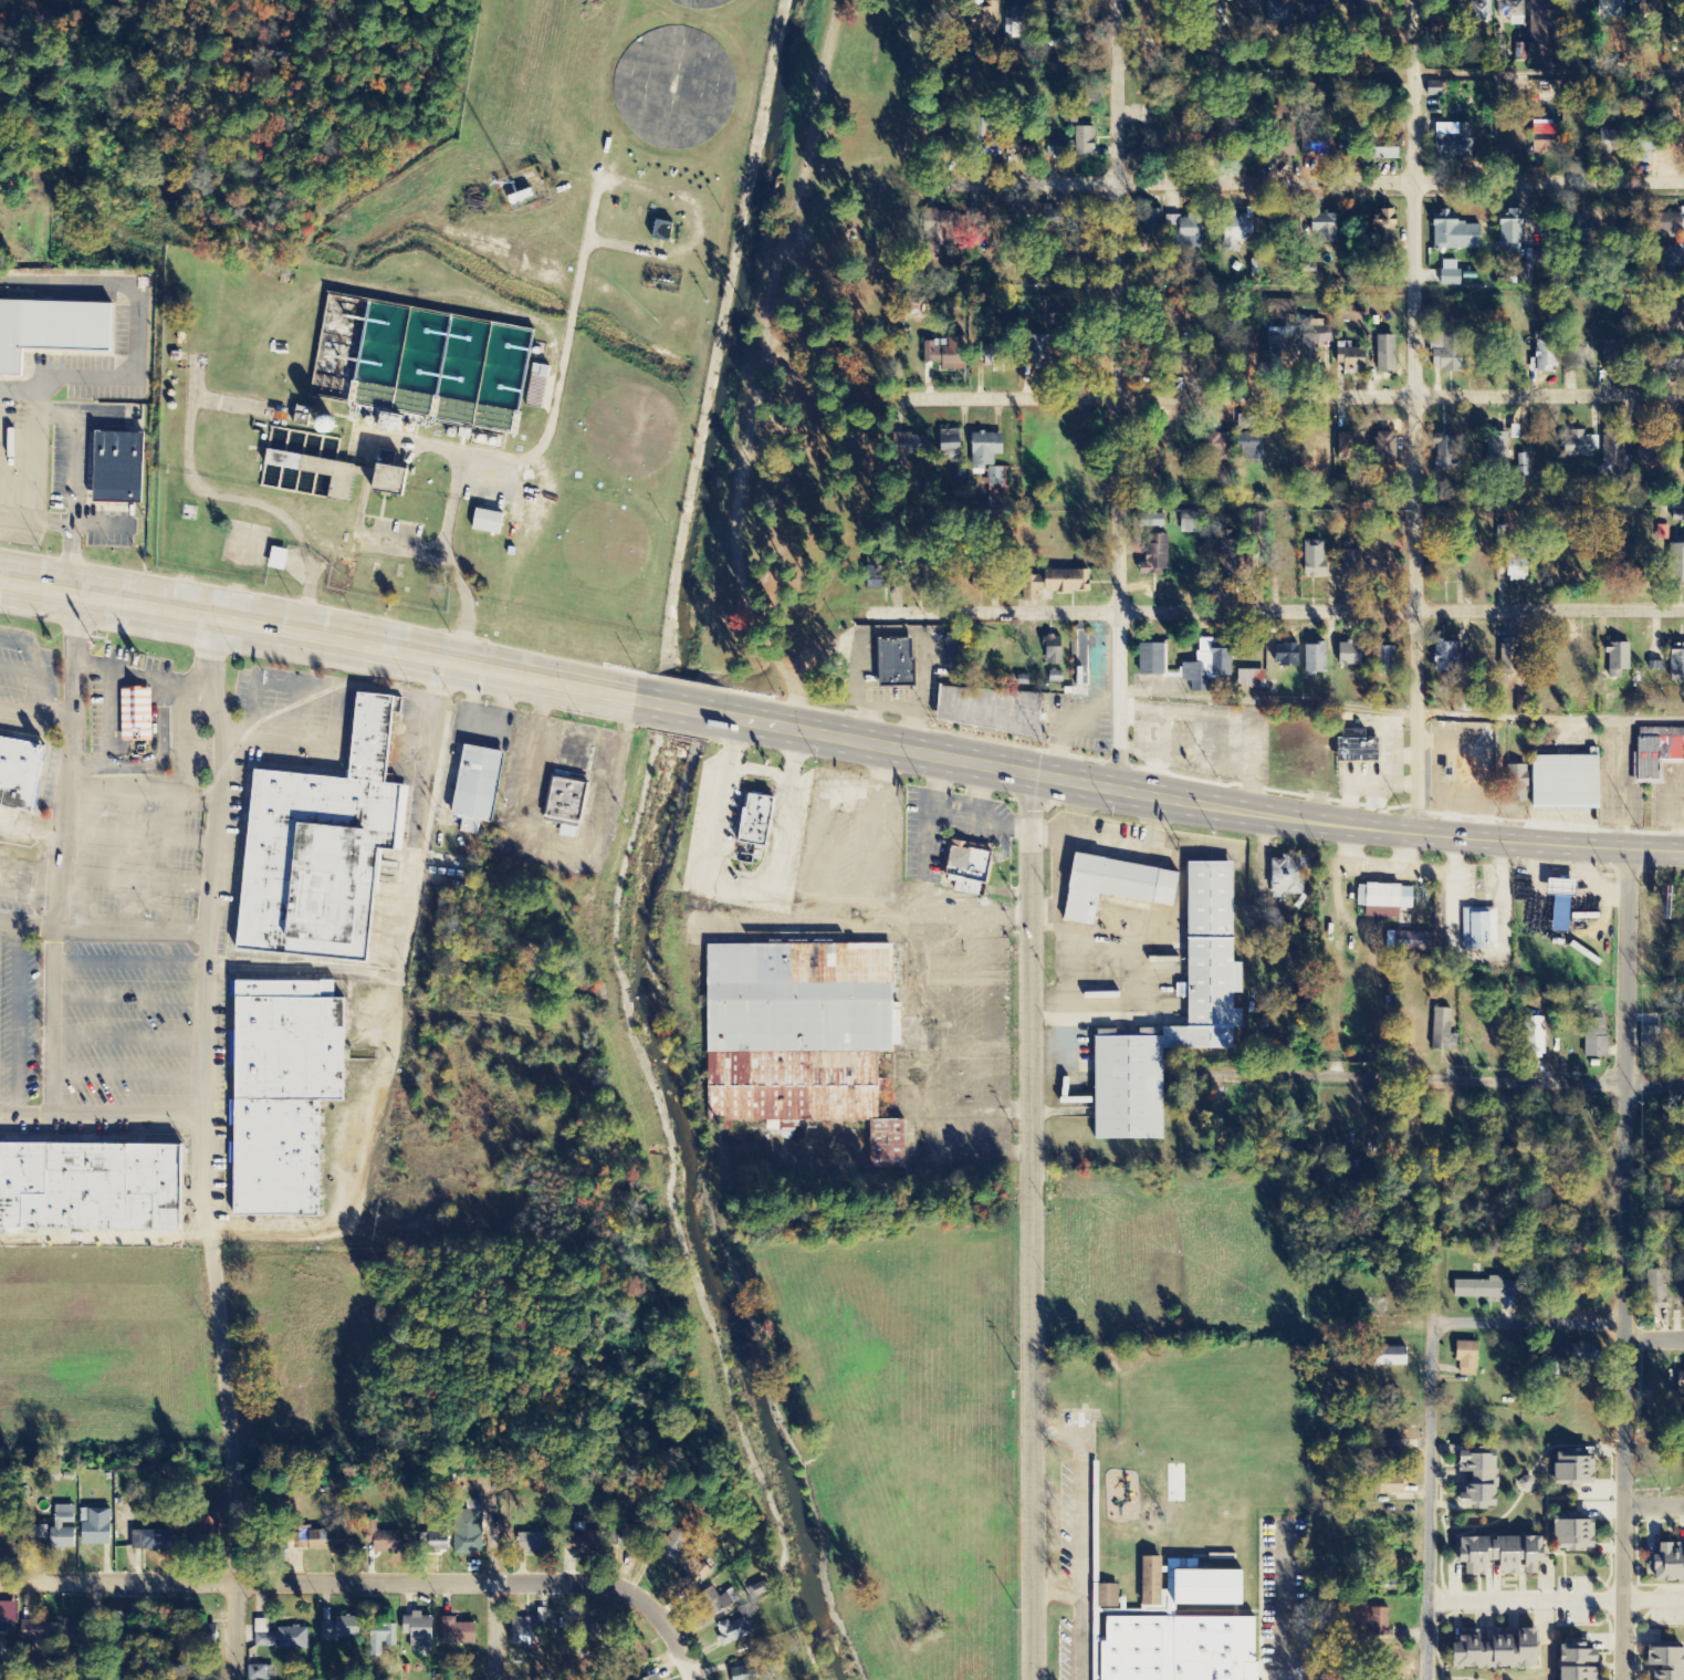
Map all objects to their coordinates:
building: (1611, 10)
building: (1278, 11)
building: (1477, 11)
building: (1214, 12)
building: (1054, 13)
building: (979, 18)
building: (1021, 21)
building: (1542, 23)
building: (1675, 27)
building: (1539, 129)
building: (1087, 142)
building: (1283, 142)
building: (1308, 142)
building: (1610, 143)
building: (1454, 144)
building: (1541, 147)
building: (1060, 148)
building: (1380, 149)
road: (1319, 181)
building: (1152, 221)
building: (941, 225)
building: (1548, 225)
building: (1666, 225)
building: (1034, 226)
building: (1577, 226)
building: (1324, 227)
building: (1382, 227)
building: (1234, 231)
building: (665, 232)
building: (1507, 232)
building: (1085, 234)
building: (1186, 234)
building: (1453, 234)
building: (1670, 260)
building: (1308, 264)
building: (1448, 275)
building: (1282, 311)
building: (1348, 313)
building: (1669, 319)
building: (51, 328)
wastewater plant: (482, 336)
building: (948, 353)
building: (1384, 354)
building: (1444, 354)
building: (1672, 356)
building: (1581, 357)
building: (1541, 359)
building: (1348, 361)
building: (1188, 364)
building: (1671, 367)
road: (1118, 395)
road: (1320, 396)
road: (1415, 417)
building: (385, 421)
building: (332, 426)
building: (952, 444)
building: (1577, 446)
building: (924, 447)
building: (1216, 447)
building: (1248, 448)
building: (1350, 448)
building: (1496, 449)
building: (985, 451)
building: (1383, 451)
building: (1614, 452)
building: (1445, 453)
building: (123, 468)
building: (322, 474)
building: (394, 477)
building: (997, 479)
building: (1153, 521)
building: (490, 522)
building: (1191, 525)
building: (1157, 556)
building: (1233, 557)
building: (280, 560)
building: (1312, 560)
building: (1350, 562)
building: (1675, 564)
building: (1514, 571)
building: (877, 580)
building: (1057, 584)
road: (1320, 611)
road: (890, 627)
building: (1055, 651)
building: (958, 654)
building: (1287, 656)
building: (1347, 656)
building: (1443, 658)
building: (1314, 659)
building: (1153, 660)
building: (1382, 660)
building: (1613, 661)
road: (46, 664)
building: (898, 664)
building: (1207, 666)
building: (1675, 667)
road: (23, 674)
building: (1252, 679)
road: (268, 682)
road: (887, 700)
building: (992, 711)
road: (1400, 713)
building: (137, 716)
road: (292, 717)
road: (34, 718)
road: (859, 720)
road: (911, 726)
road: (839, 737)
building: (1353, 748)
road: (332, 751)
building: (18, 770)
building: (1560, 783)
building: (479, 787)
road: (142, 794)
building: (569, 800)
building: (760, 821)
road: (30, 831)
road: (137, 841)
building: (318, 846)
road: (59, 858)
building: (970, 870)
building: (1285, 878)
road: (134, 883)
building: (1112, 884)
building: (1381, 900)
building: (1557, 904)
building: (1477, 929)
road: (206, 936)
road: (102, 937)
building: (1411, 942)
road: (128, 962)
building: (1209, 1000)
road: (128, 1002)
building: (1441, 1021)
road: (18, 1024)
building: (799, 1034)
building: (1531, 1037)
building: (1593, 1039)
road: (128, 1040)
road: (128, 1077)
road: (1461, 1079)
building: (280, 1091)
road: (103, 1121)
building: (92, 1190)
road: (1035, 1227)
road: (1624, 1264)
building: (1484, 1290)
building: (1655, 1291)
building: (1683, 1293)
road: (1556, 1332)
building: (1389, 1357)
building: (1465, 1358)
building: (1680, 1381)
road: (1429, 1433)
road: (238, 1465)
building: (1567, 1471)
building: (1475, 1483)
building: (1385, 1486)
road: (1653, 1506)
building: (59, 1526)
building: (97, 1528)
building: (470, 1530)
building: (41, 1533)
building: (629, 1536)
building: (585, 1540)
building: (154, 1542)
building: (323, 1542)
building: (436, 1542)
building: (389, 1543)
building: (540, 1544)
building: (674, 1545)
building: (1498, 1554)
building: (1666, 1563)
building: (692, 1573)
building: (1196, 1582)
building: (1391, 1586)
road: (375, 1589)
building: (1111, 1596)
building: (714, 1604)
road: (1524, 1606)
building: (7, 1620)
building: (1379, 1622)
building: (343, 1630)
building: (525, 1631)
building: (734, 1631)
building: (420, 1632)
building: (42, 1634)
building: (459, 1634)
building: (81, 1636)
road: (499, 1636)
building: (279, 1638)
building: (381, 1640)
building: (1171, 1647)
building: (1494, 1649)
building: (595, 1652)
building: (1571, 1660)
building: (1665, 1661)
building: (745, 1669)
building: (261, 1673)
building: (650, 1679)

